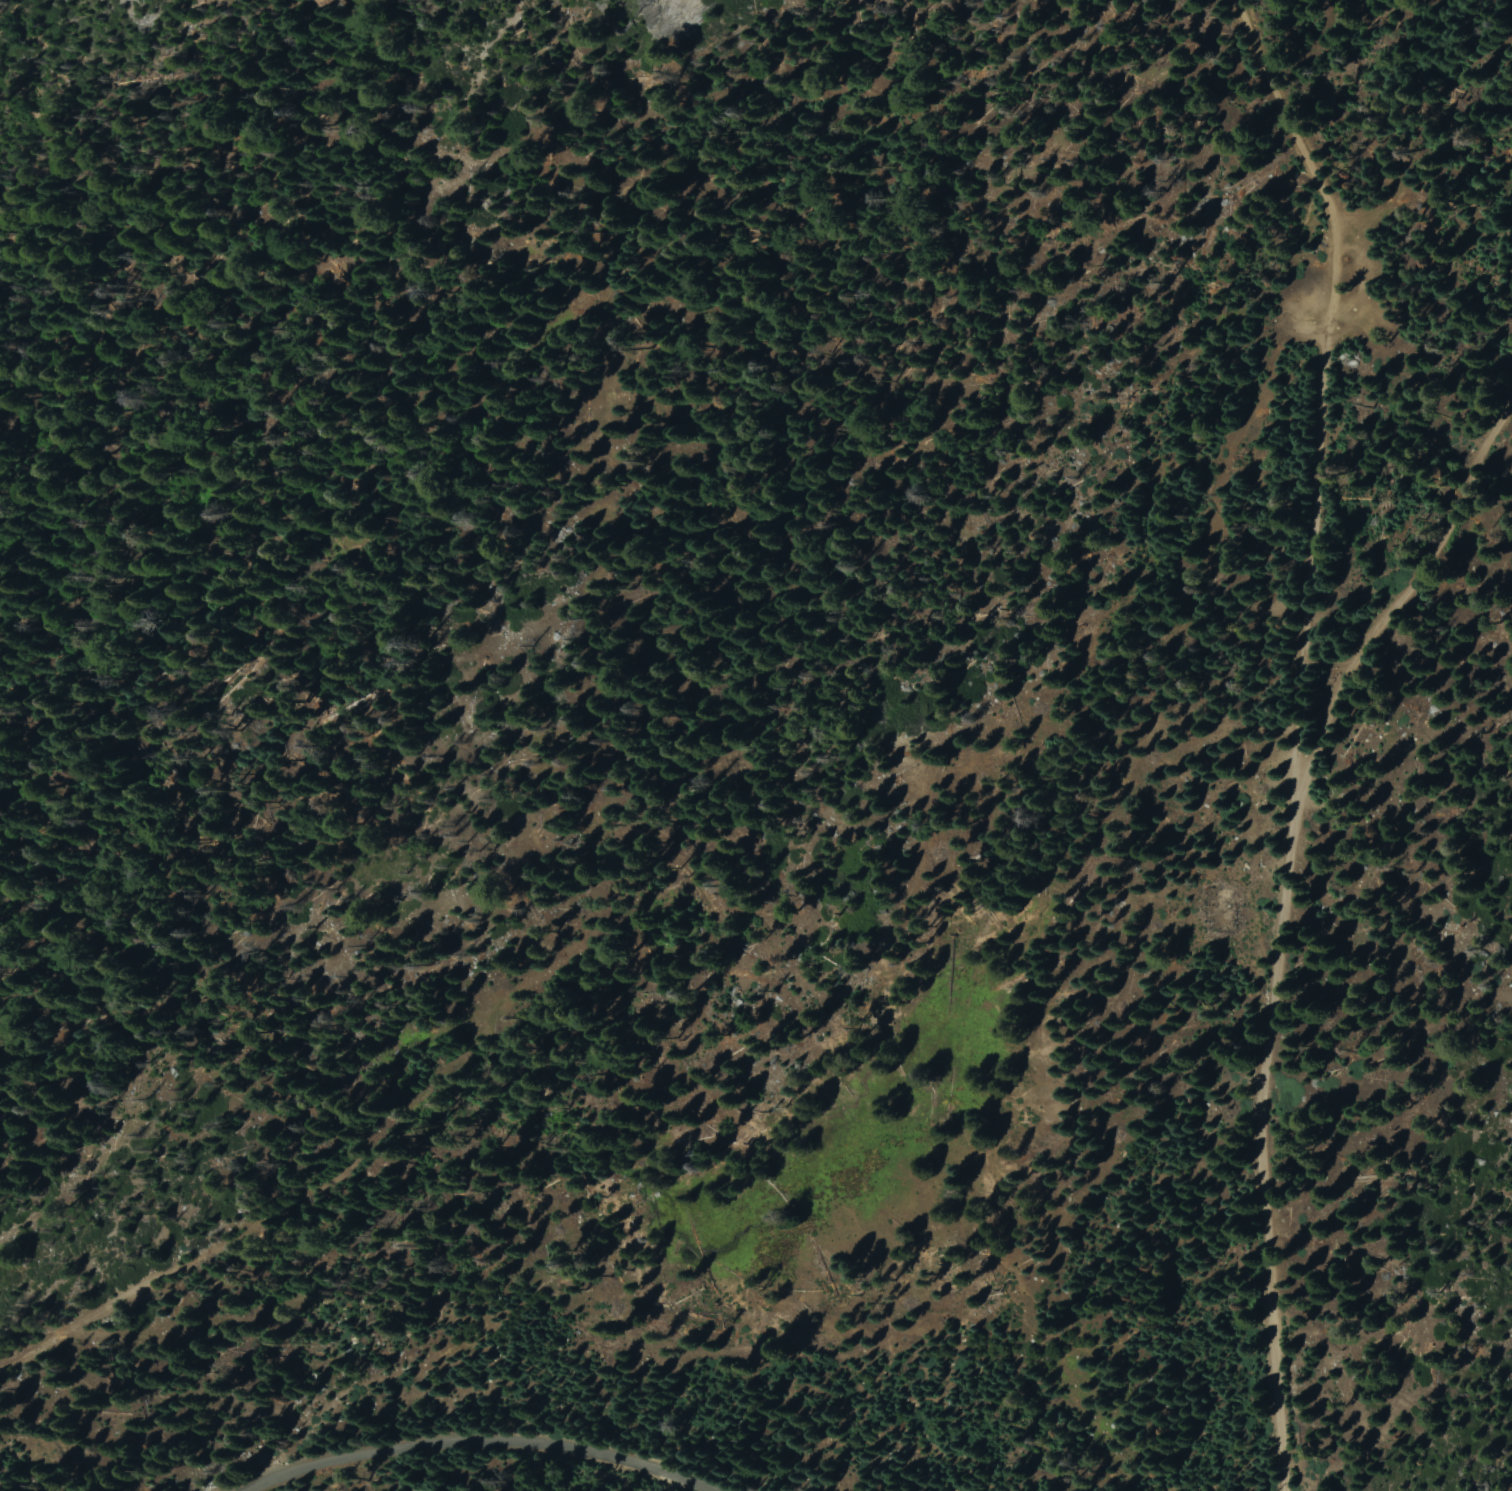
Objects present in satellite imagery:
road: (1420, 551)
road: (1304, 736)
road: (133, 1304)
road: (485, 1443)

